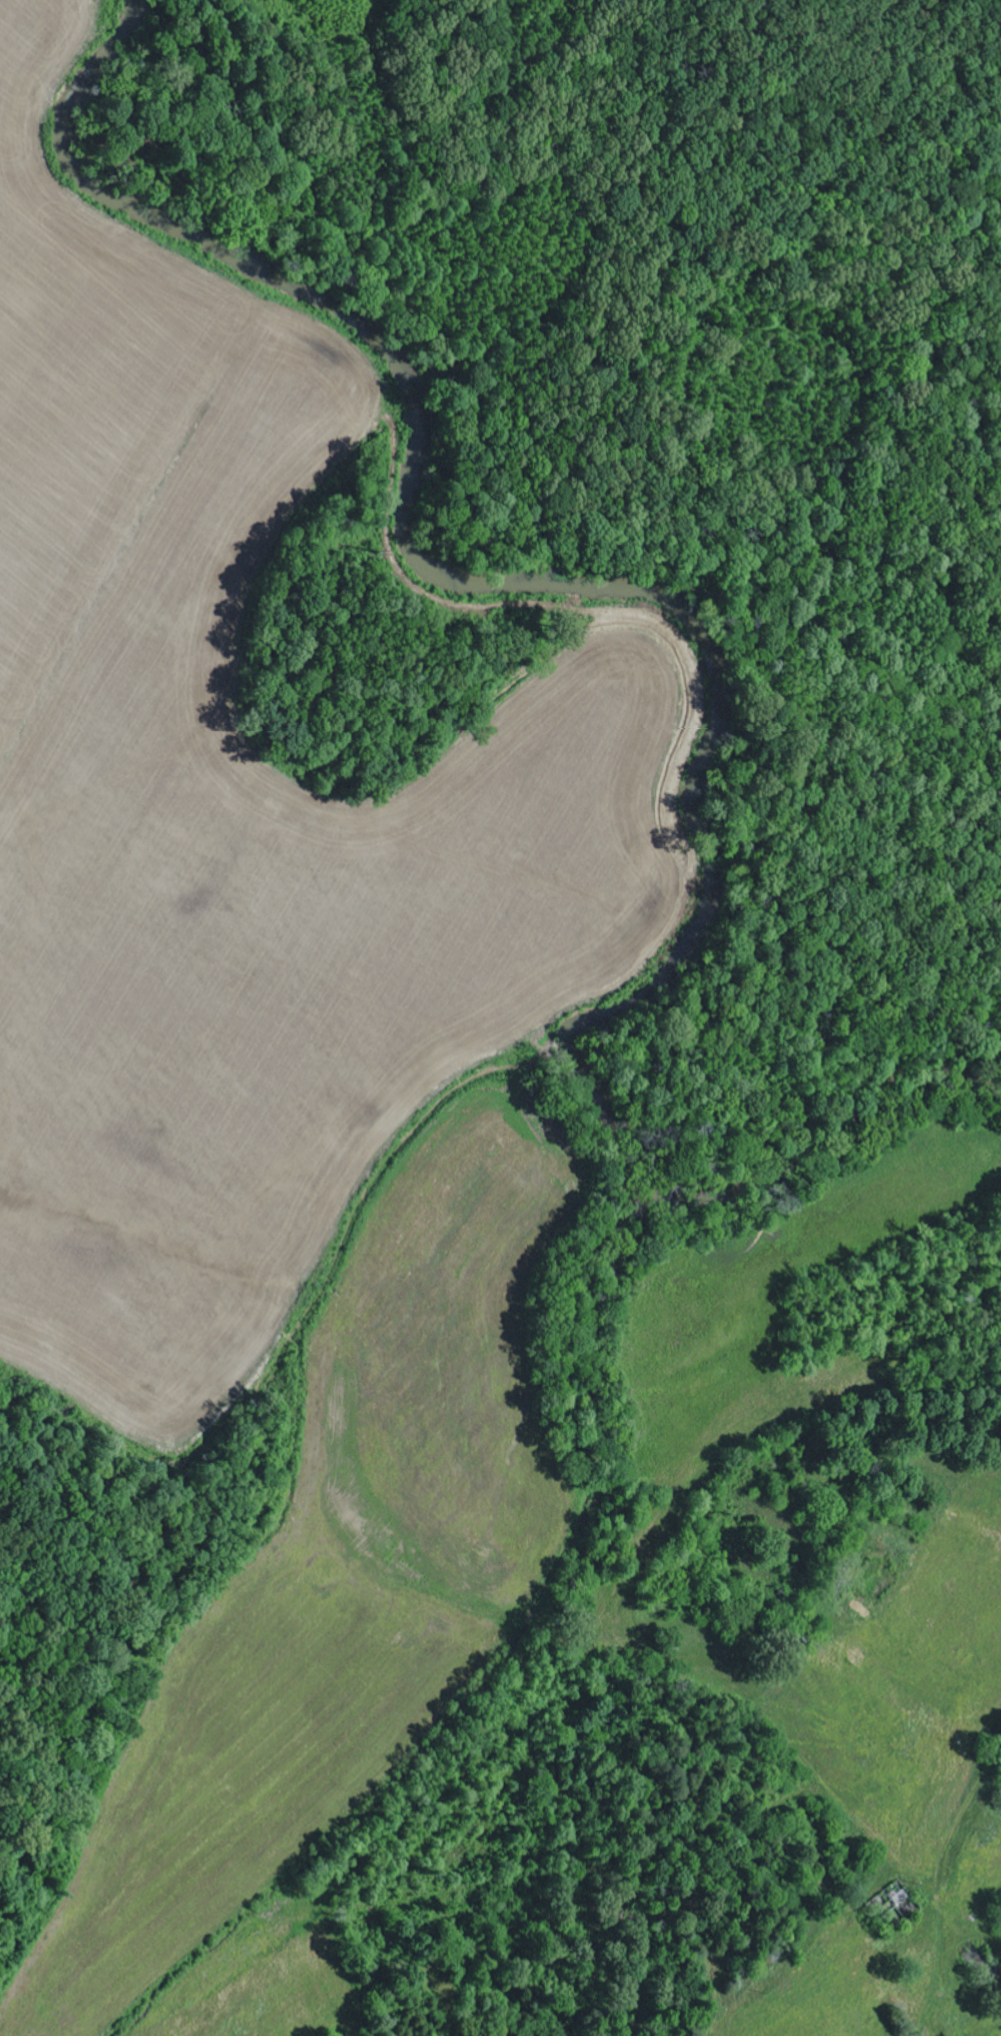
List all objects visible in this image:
river: (693, 618)
road: (940, 1887)

